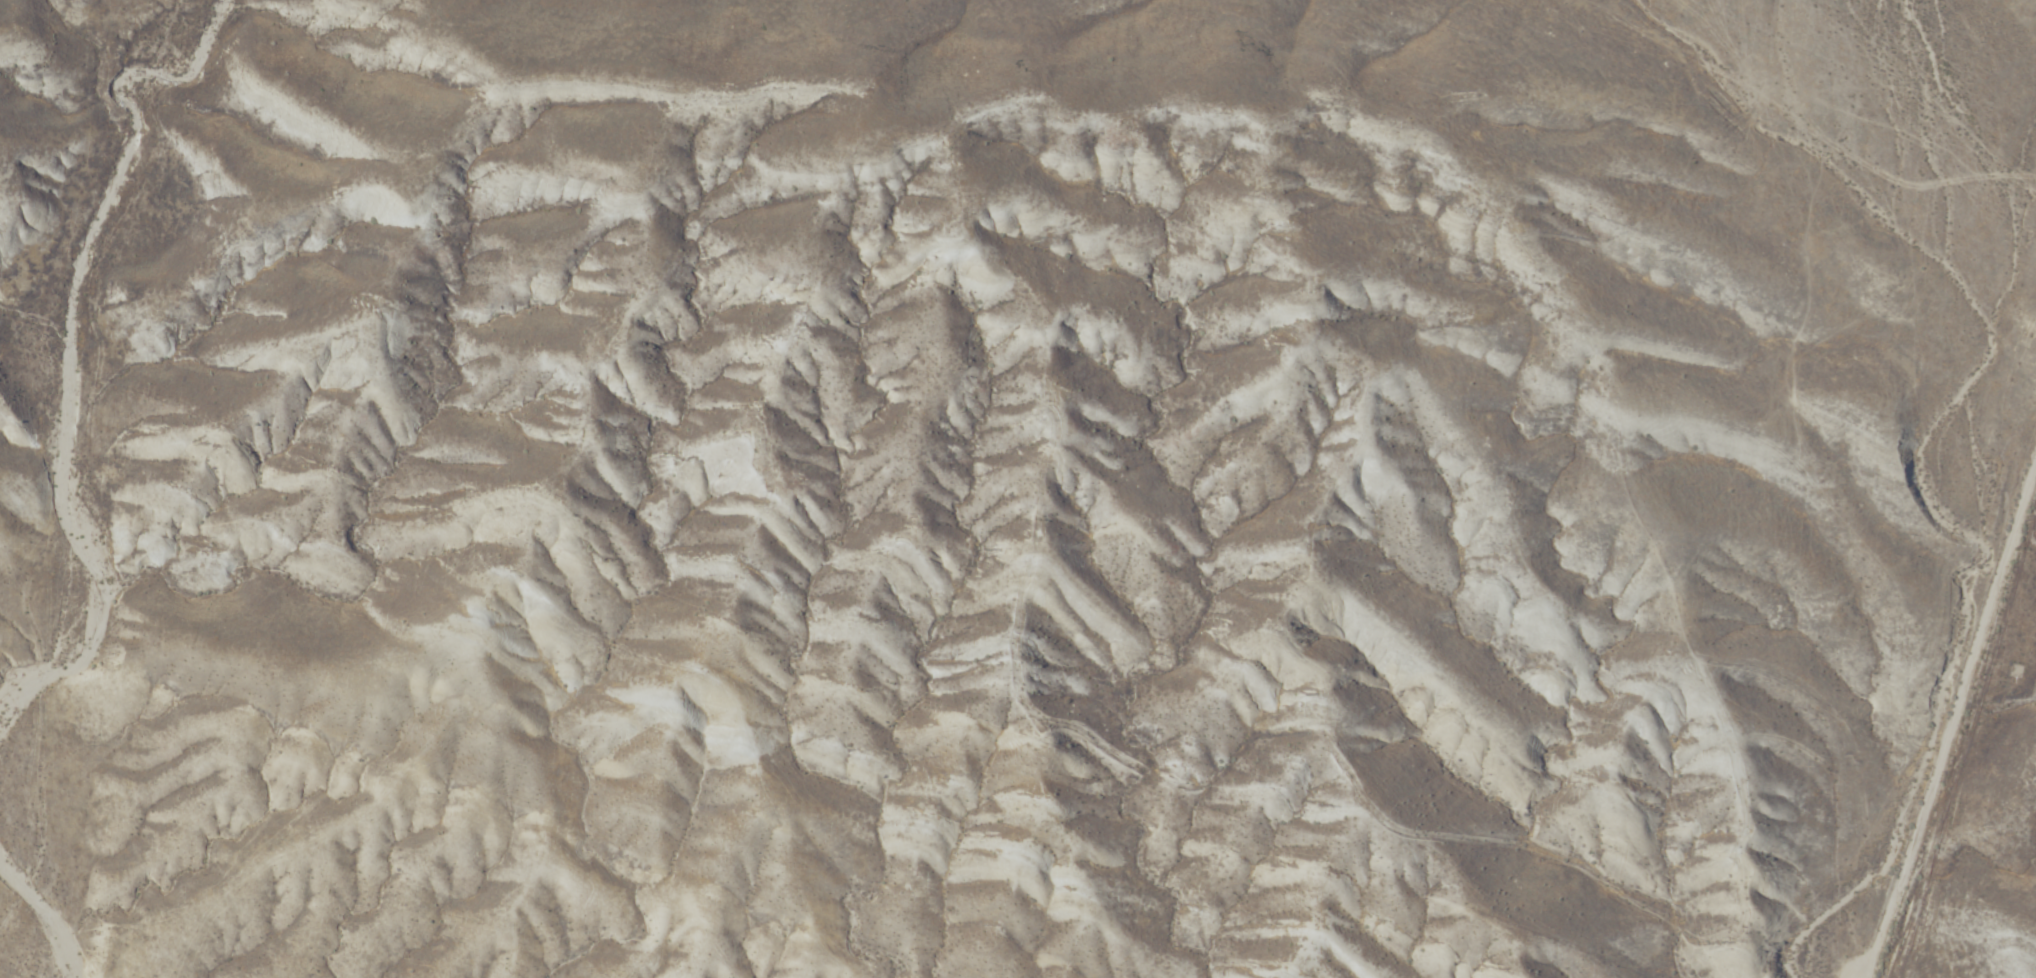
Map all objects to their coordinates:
road: (1956, 778)

